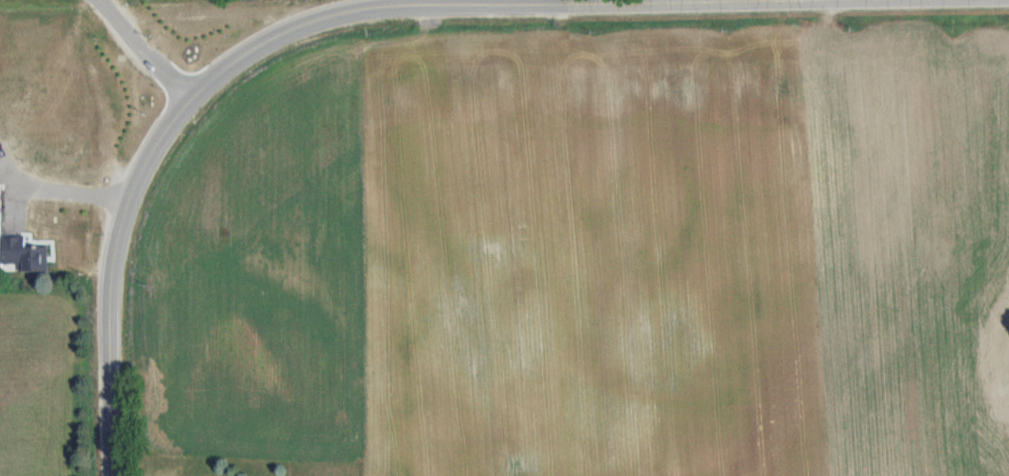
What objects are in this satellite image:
road: (637, 5)
road: (112, 6)
road: (240, 11)
road: (110, 128)
building: (49, 152)
road: (136, 182)
building: (15, 230)
crop: (689, 251)
building: (38, 259)

